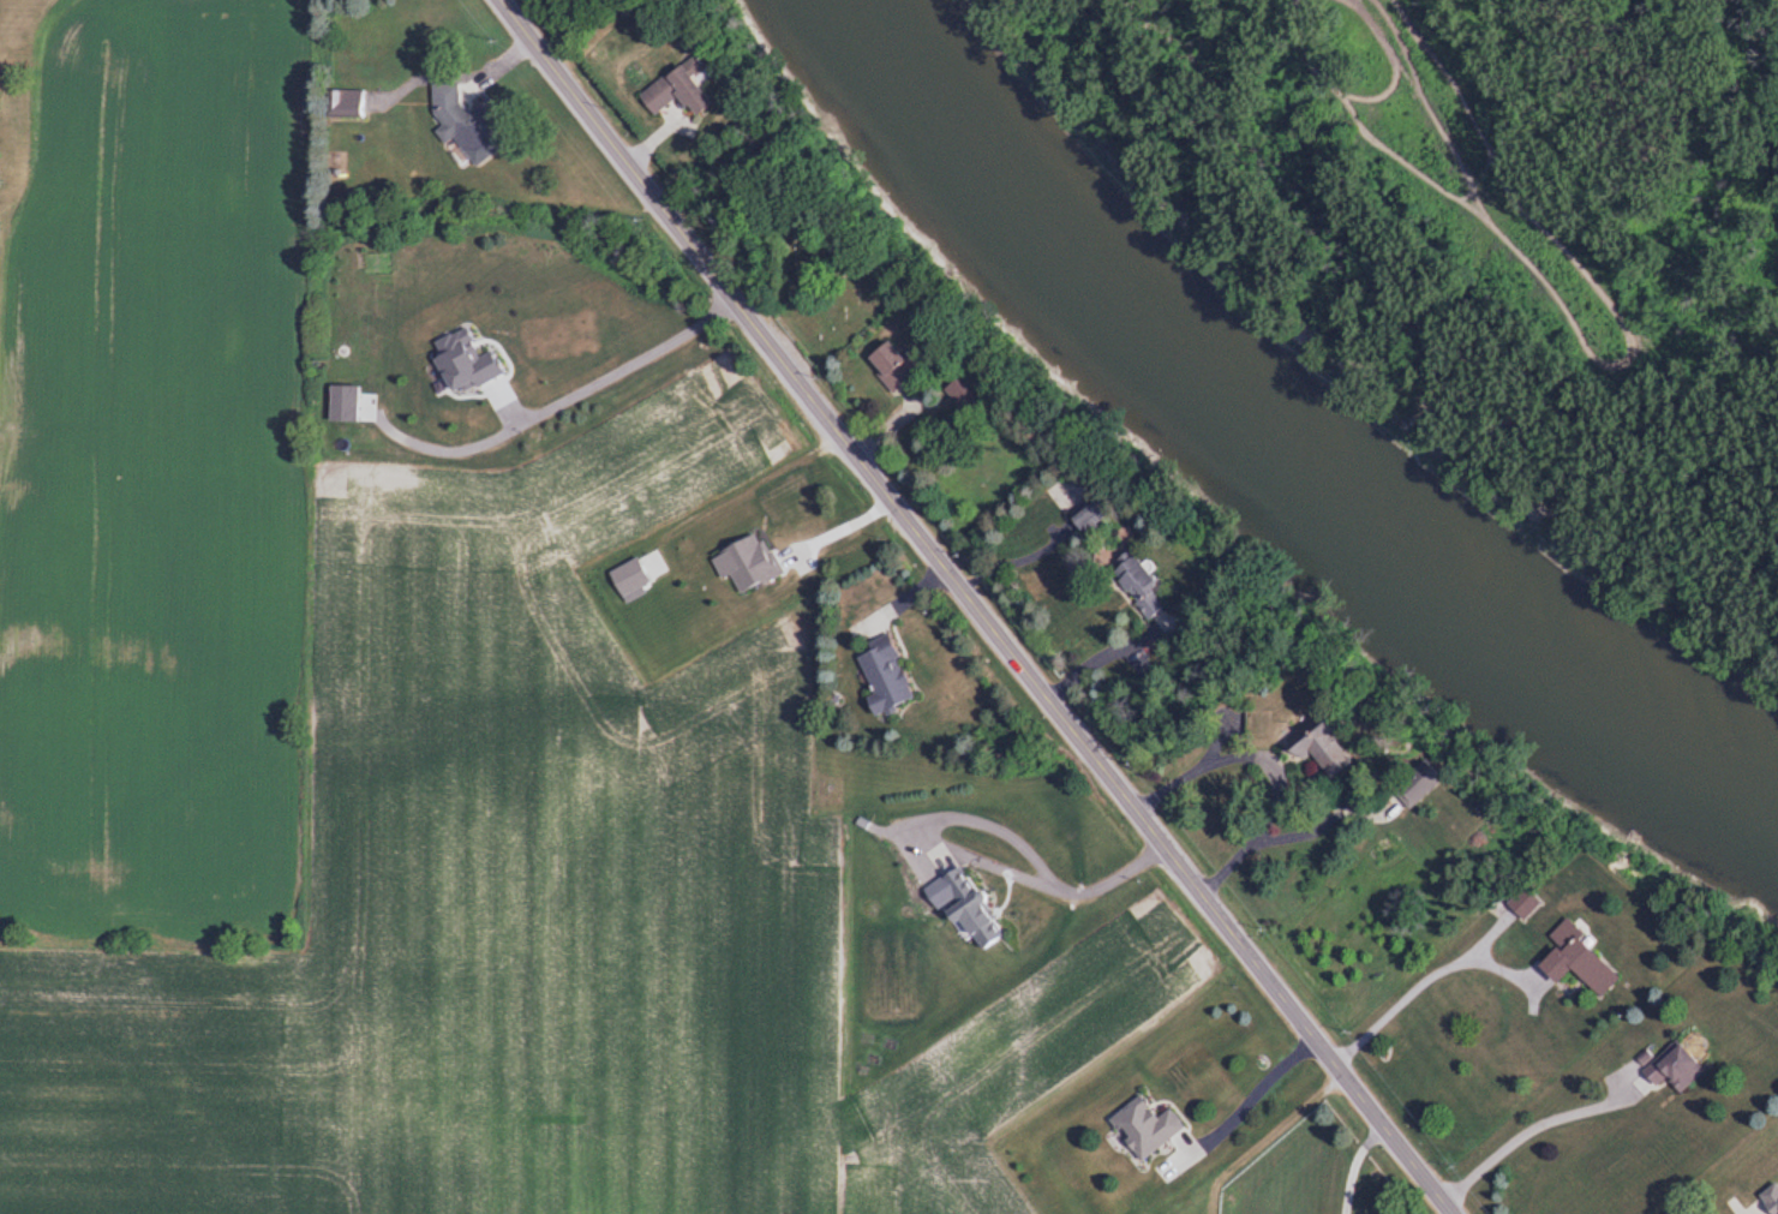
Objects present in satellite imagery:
building: (666, 91)
building: (341, 102)
building: (461, 124)
park: (824, 276)
road: (611, 358)
building: (880, 365)
building: (341, 403)
river: (1274, 451)
building: (1078, 515)
road: (837, 532)
building: (1130, 584)
road: (975, 606)
road: (1098, 657)
building: (879, 675)
building: (1315, 750)
road: (1271, 766)
building: (1408, 783)
road: (956, 851)
building: (965, 908)
building: (1570, 962)
road: (1420, 982)
building: (1669, 1069)
road: (1252, 1094)
building: (1142, 1126)
road: (1531, 1128)
road: (1354, 1165)
building: (1768, 1198)
road: (1756, 1213)

